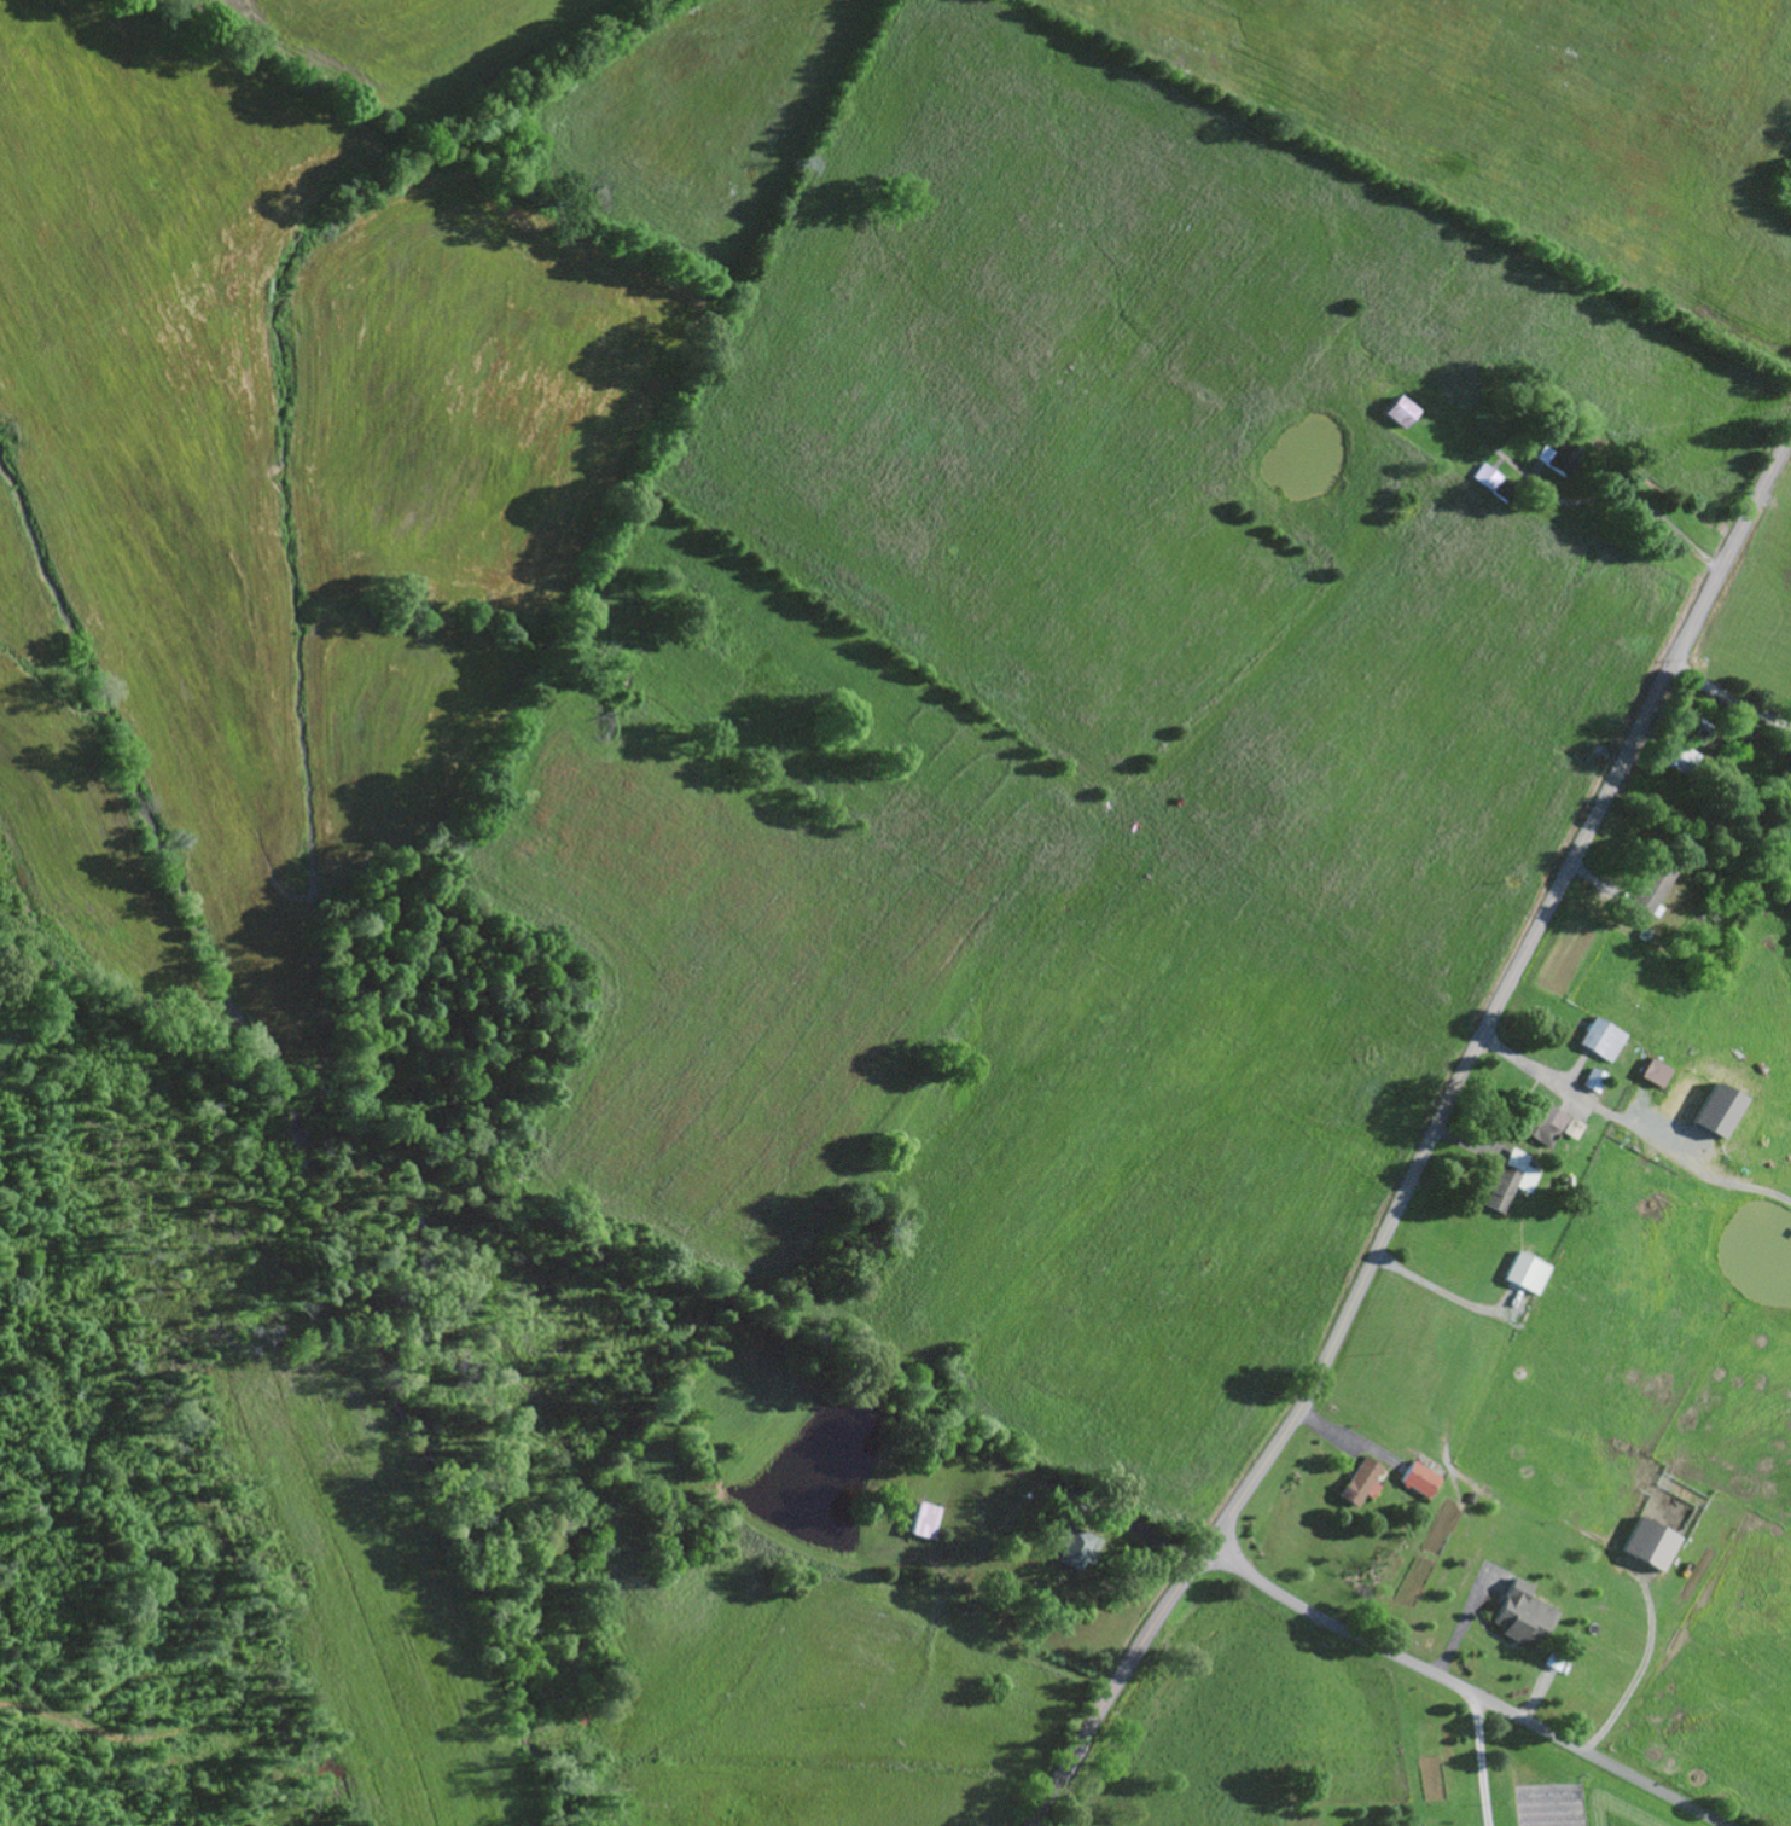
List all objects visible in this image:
building: (1401, 407)
building: (1565, 450)
building: (1485, 472)
road: (1728, 696)
building: (1696, 723)
building: (1679, 755)
building: (1651, 883)
building: (1601, 1037)
building: (1652, 1070)
building: (1593, 1077)
building: (1716, 1107)
building: (1548, 1122)
road: (1427, 1136)
building: (1508, 1177)
building: (1525, 1270)
building: (1420, 1476)
building: (1360, 1478)
building: (1122, 1516)
building: (925, 1517)
building: (1650, 1541)
building: (1076, 1543)
building: (1523, 1611)
building: (1554, 1657)
road: (1467, 1687)
road: (1478, 1758)

